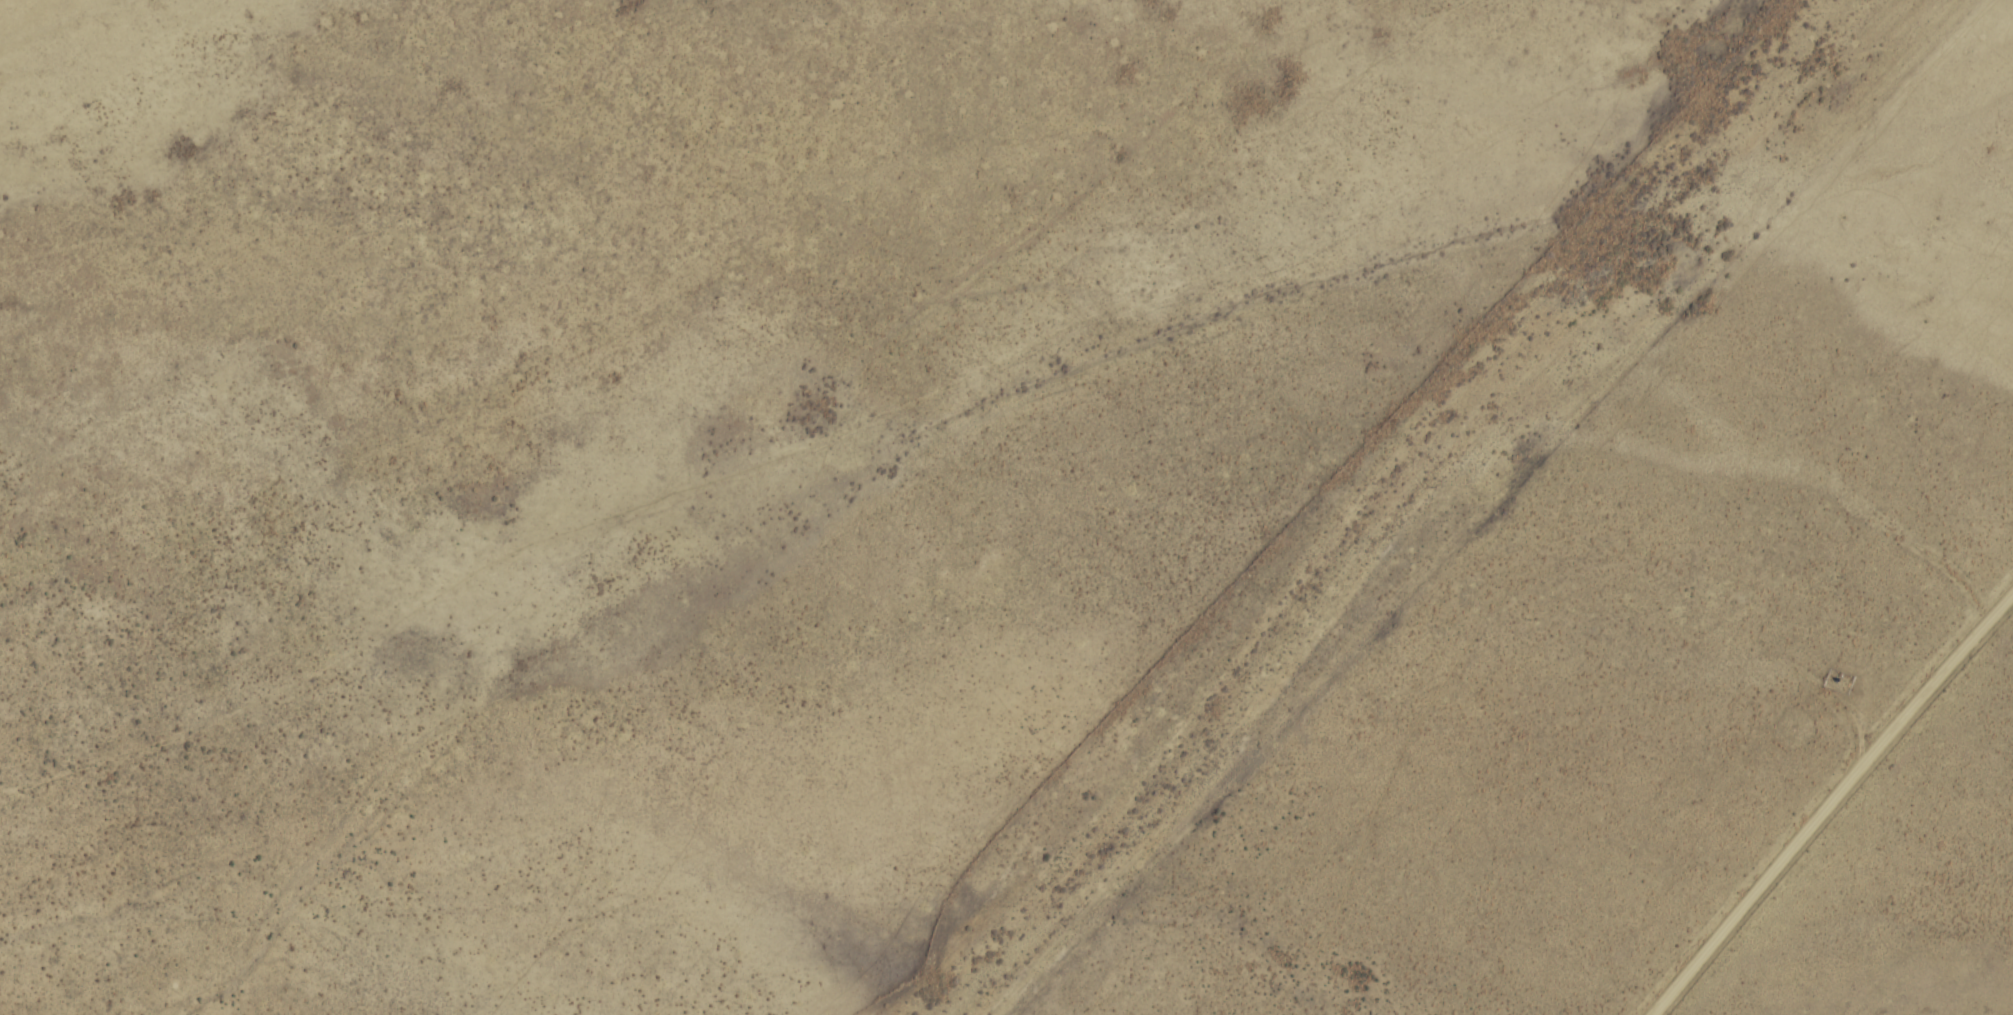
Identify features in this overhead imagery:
road: (1828, 801)

